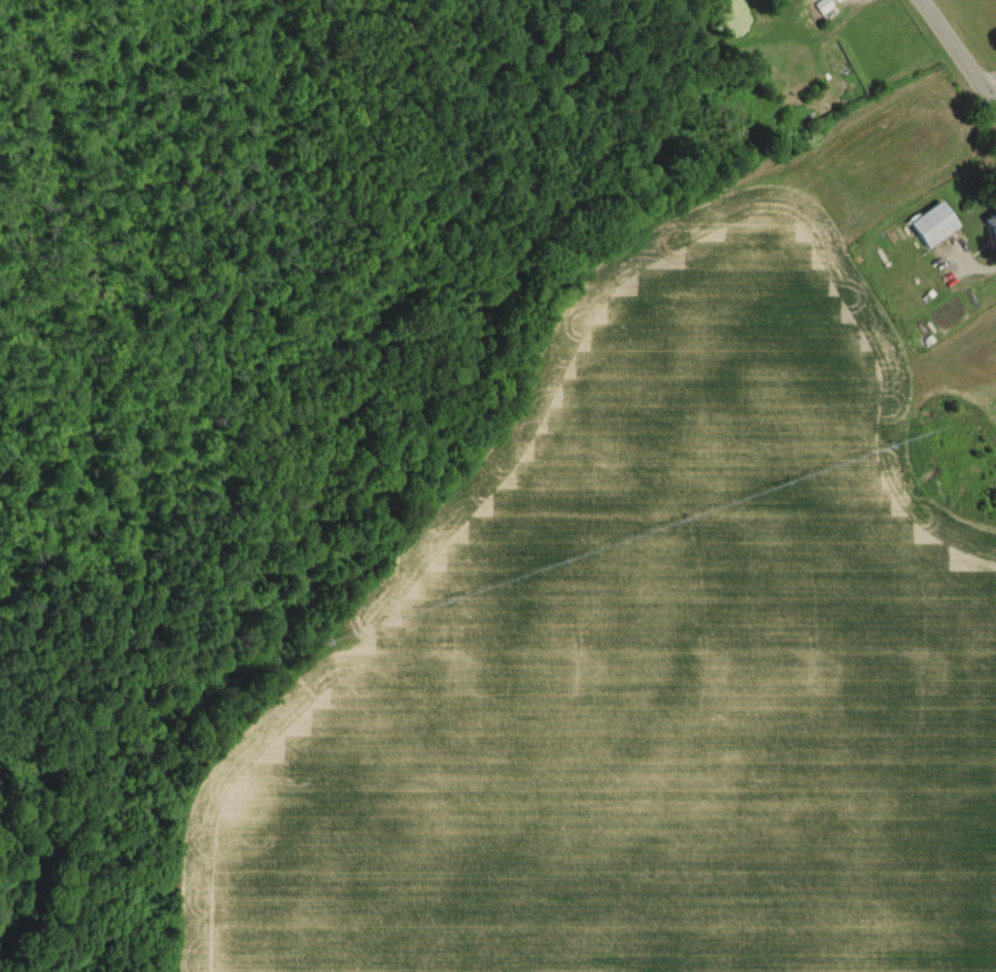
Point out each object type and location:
road: (957, 54)
road: (987, 81)
building: (932, 223)
building: (992, 223)
road: (970, 262)
crop: (647, 671)

